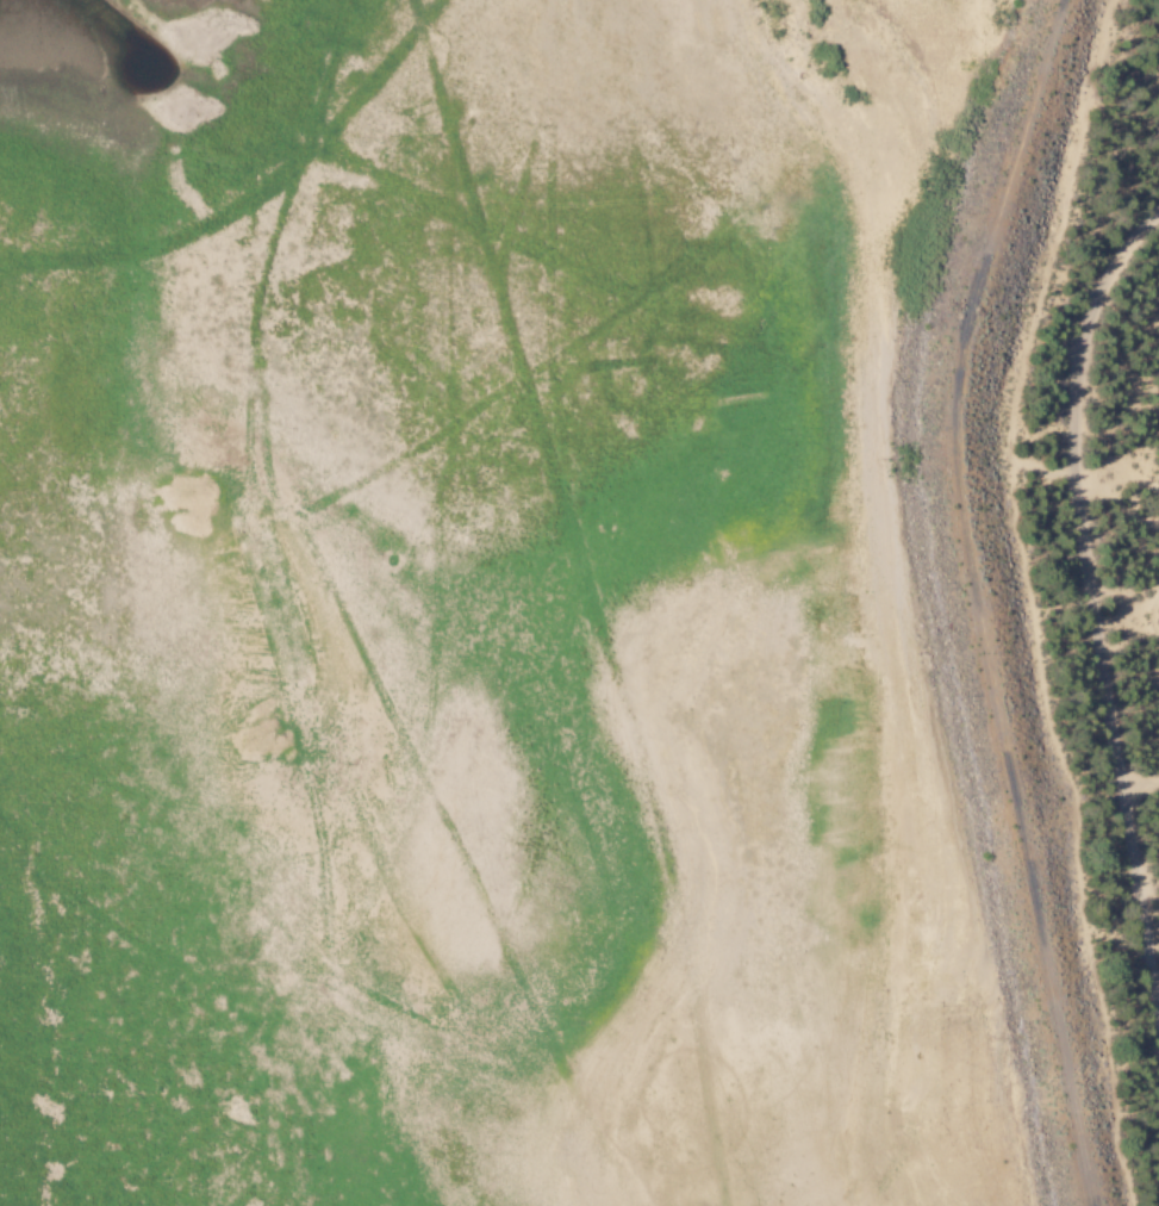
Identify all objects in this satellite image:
road: (1096, 608)

